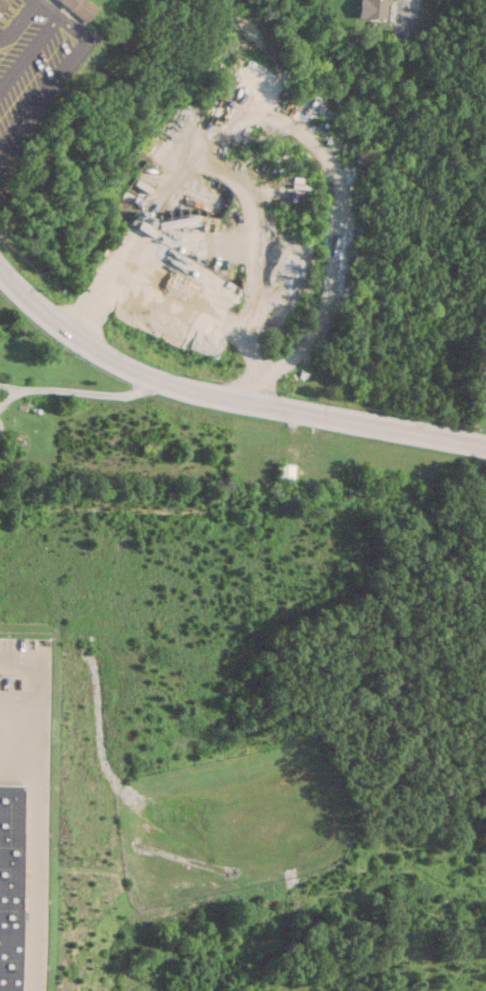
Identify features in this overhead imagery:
building: (2, 3)
building: (78, 8)
building: (373, 9)
road: (17, 18)
building: (259, 74)
building: (223, 86)
building: (167, 242)
road: (182, 313)
road: (10, 387)
road: (90, 393)
road: (10, 394)
road: (226, 399)
building: (309, 458)
building: (284, 470)
road: (16, 696)
road: (29, 808)
building: (5, 879)

